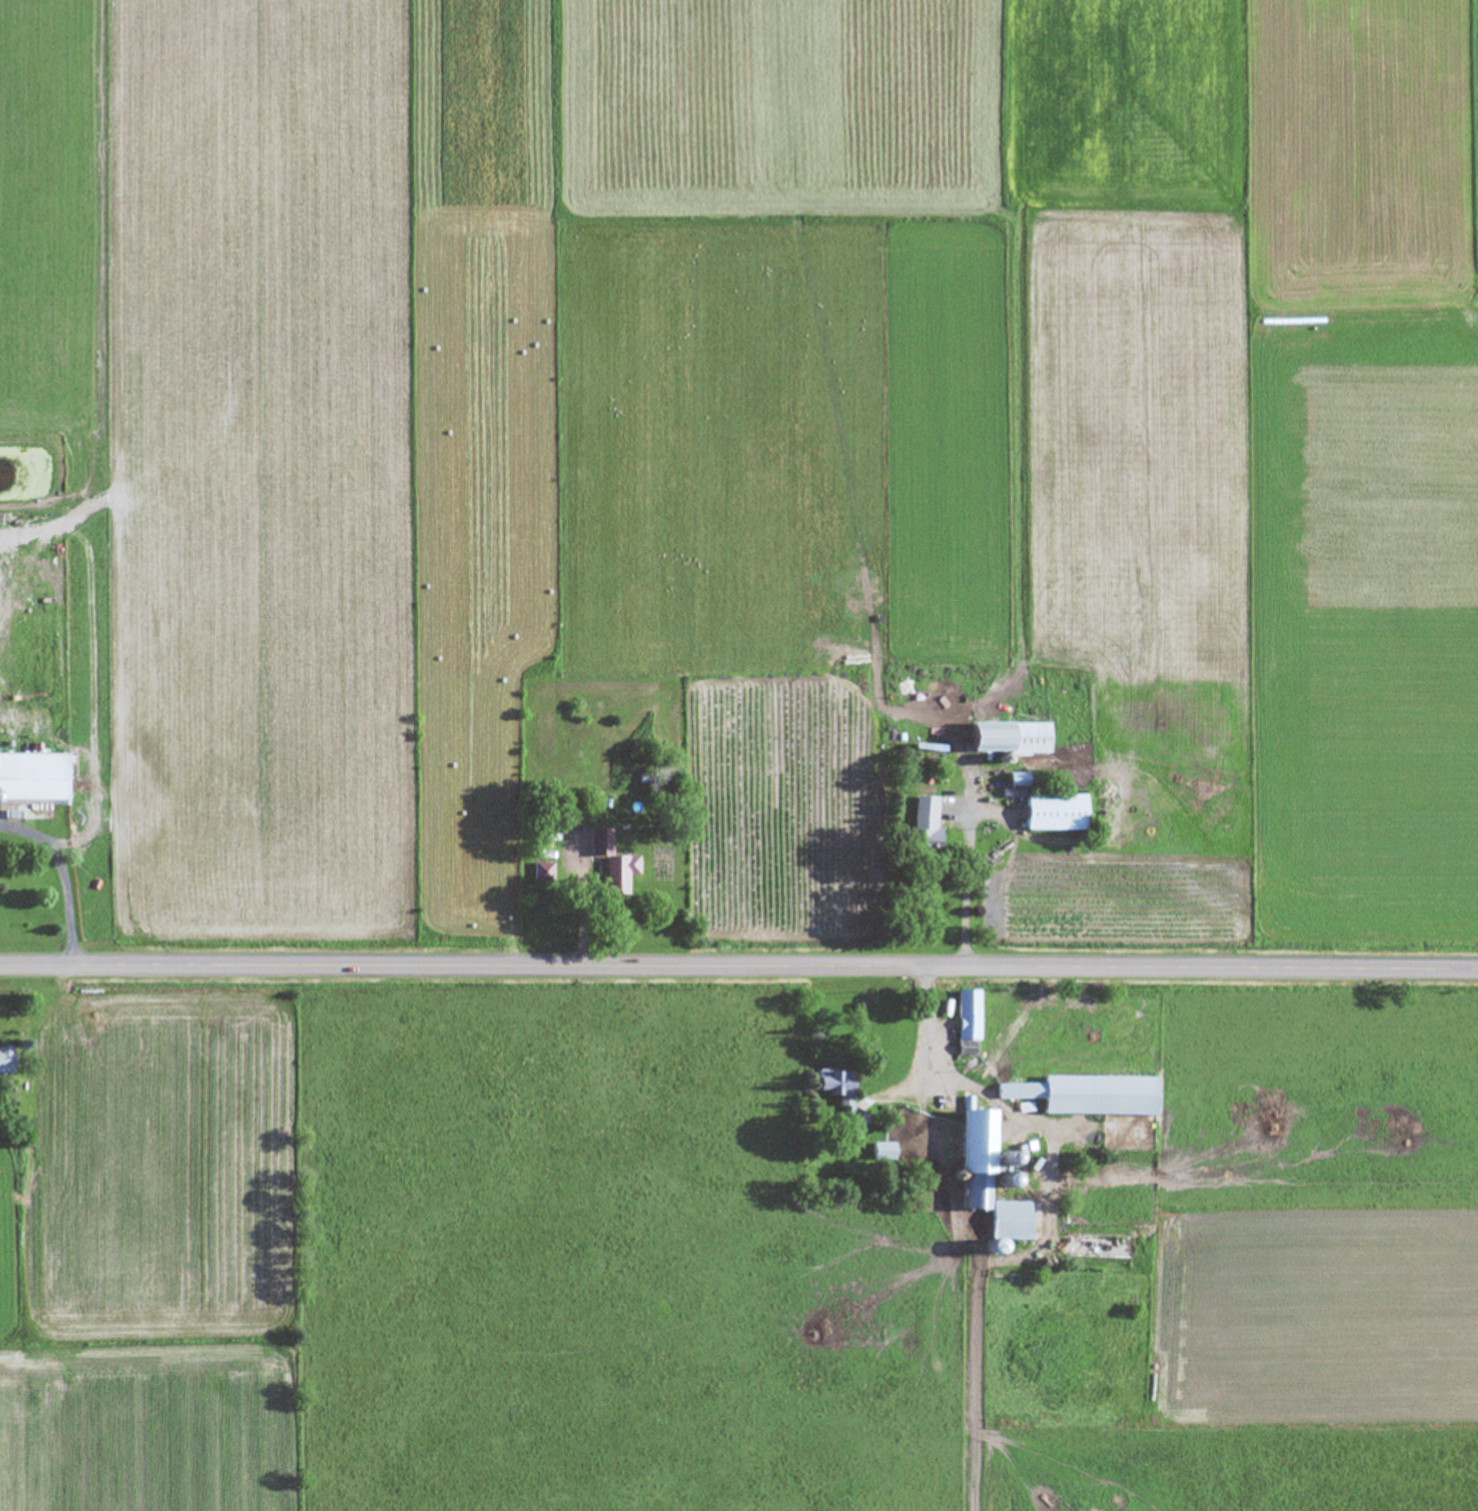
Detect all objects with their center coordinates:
building: (1006, 739)
building: (1018, 780)
building: (32, 784)
building: (1050, 813)
building: (922, 821)
building: (611, 863)
road: (964, 871)
road: (60, 875)
road: (739, 966)
building: (966, 1023)
building: (5, 1060)
road: (953, 1075)
building: (838, 1096)
building: (1084, 1096)
building: (879, 1152)
building: (985, 1178)

